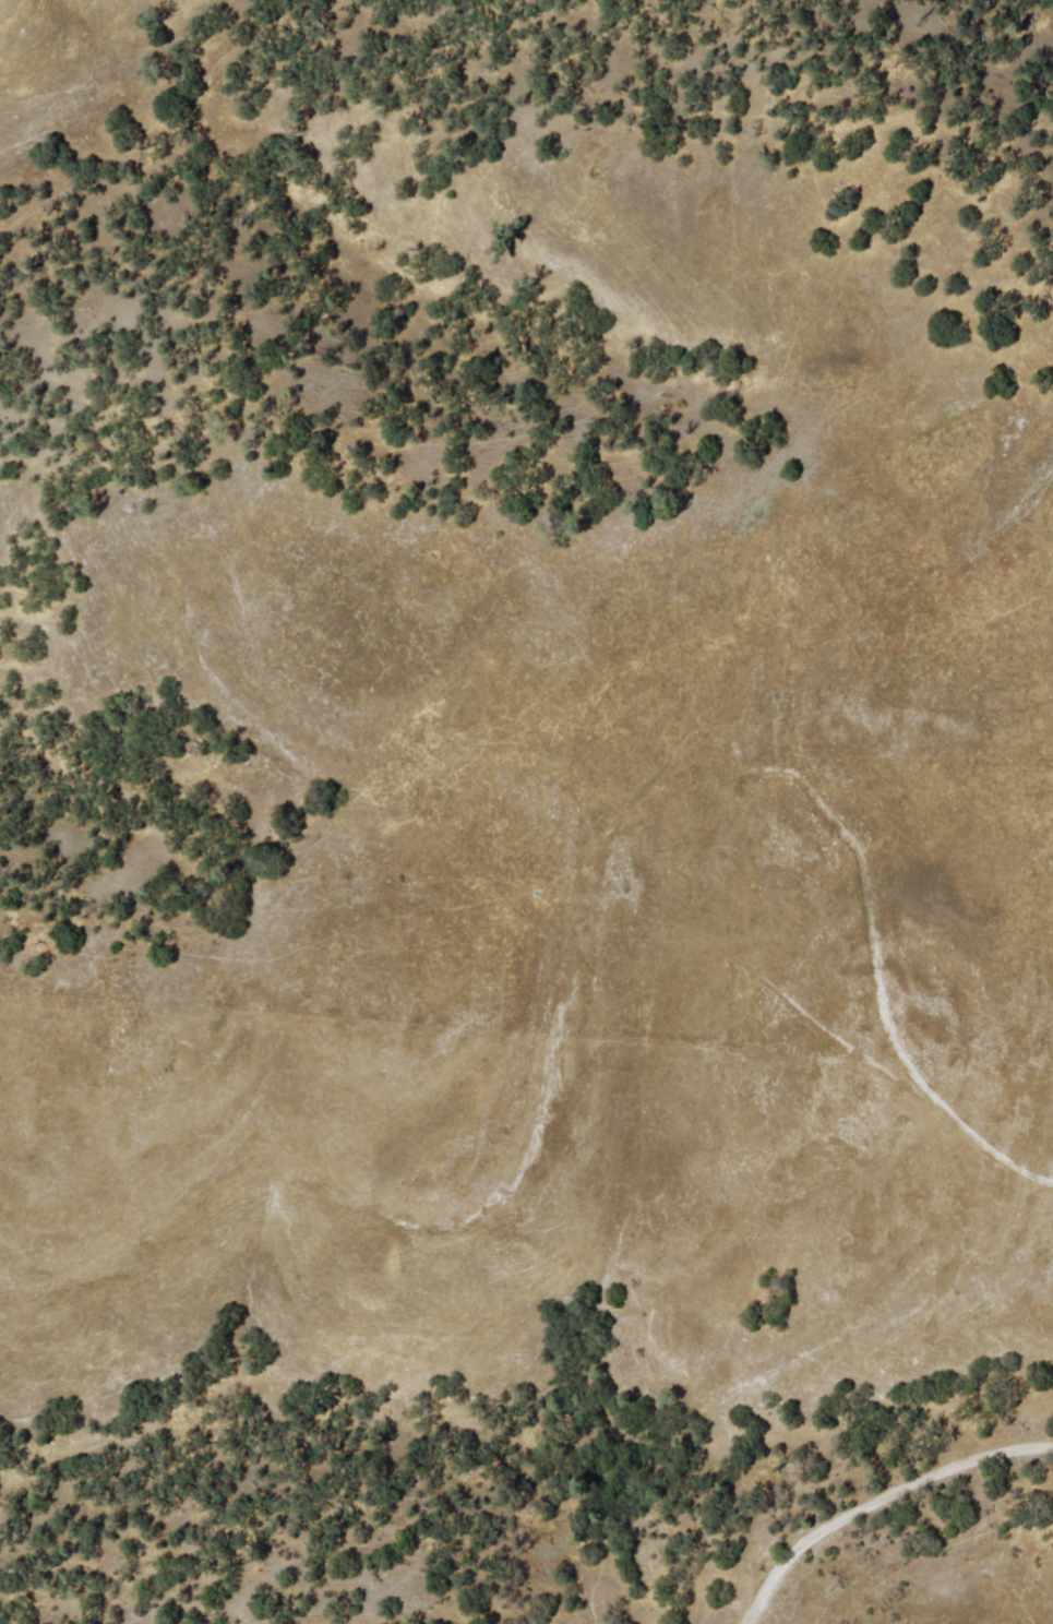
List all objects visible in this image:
road: (882, 1503)

